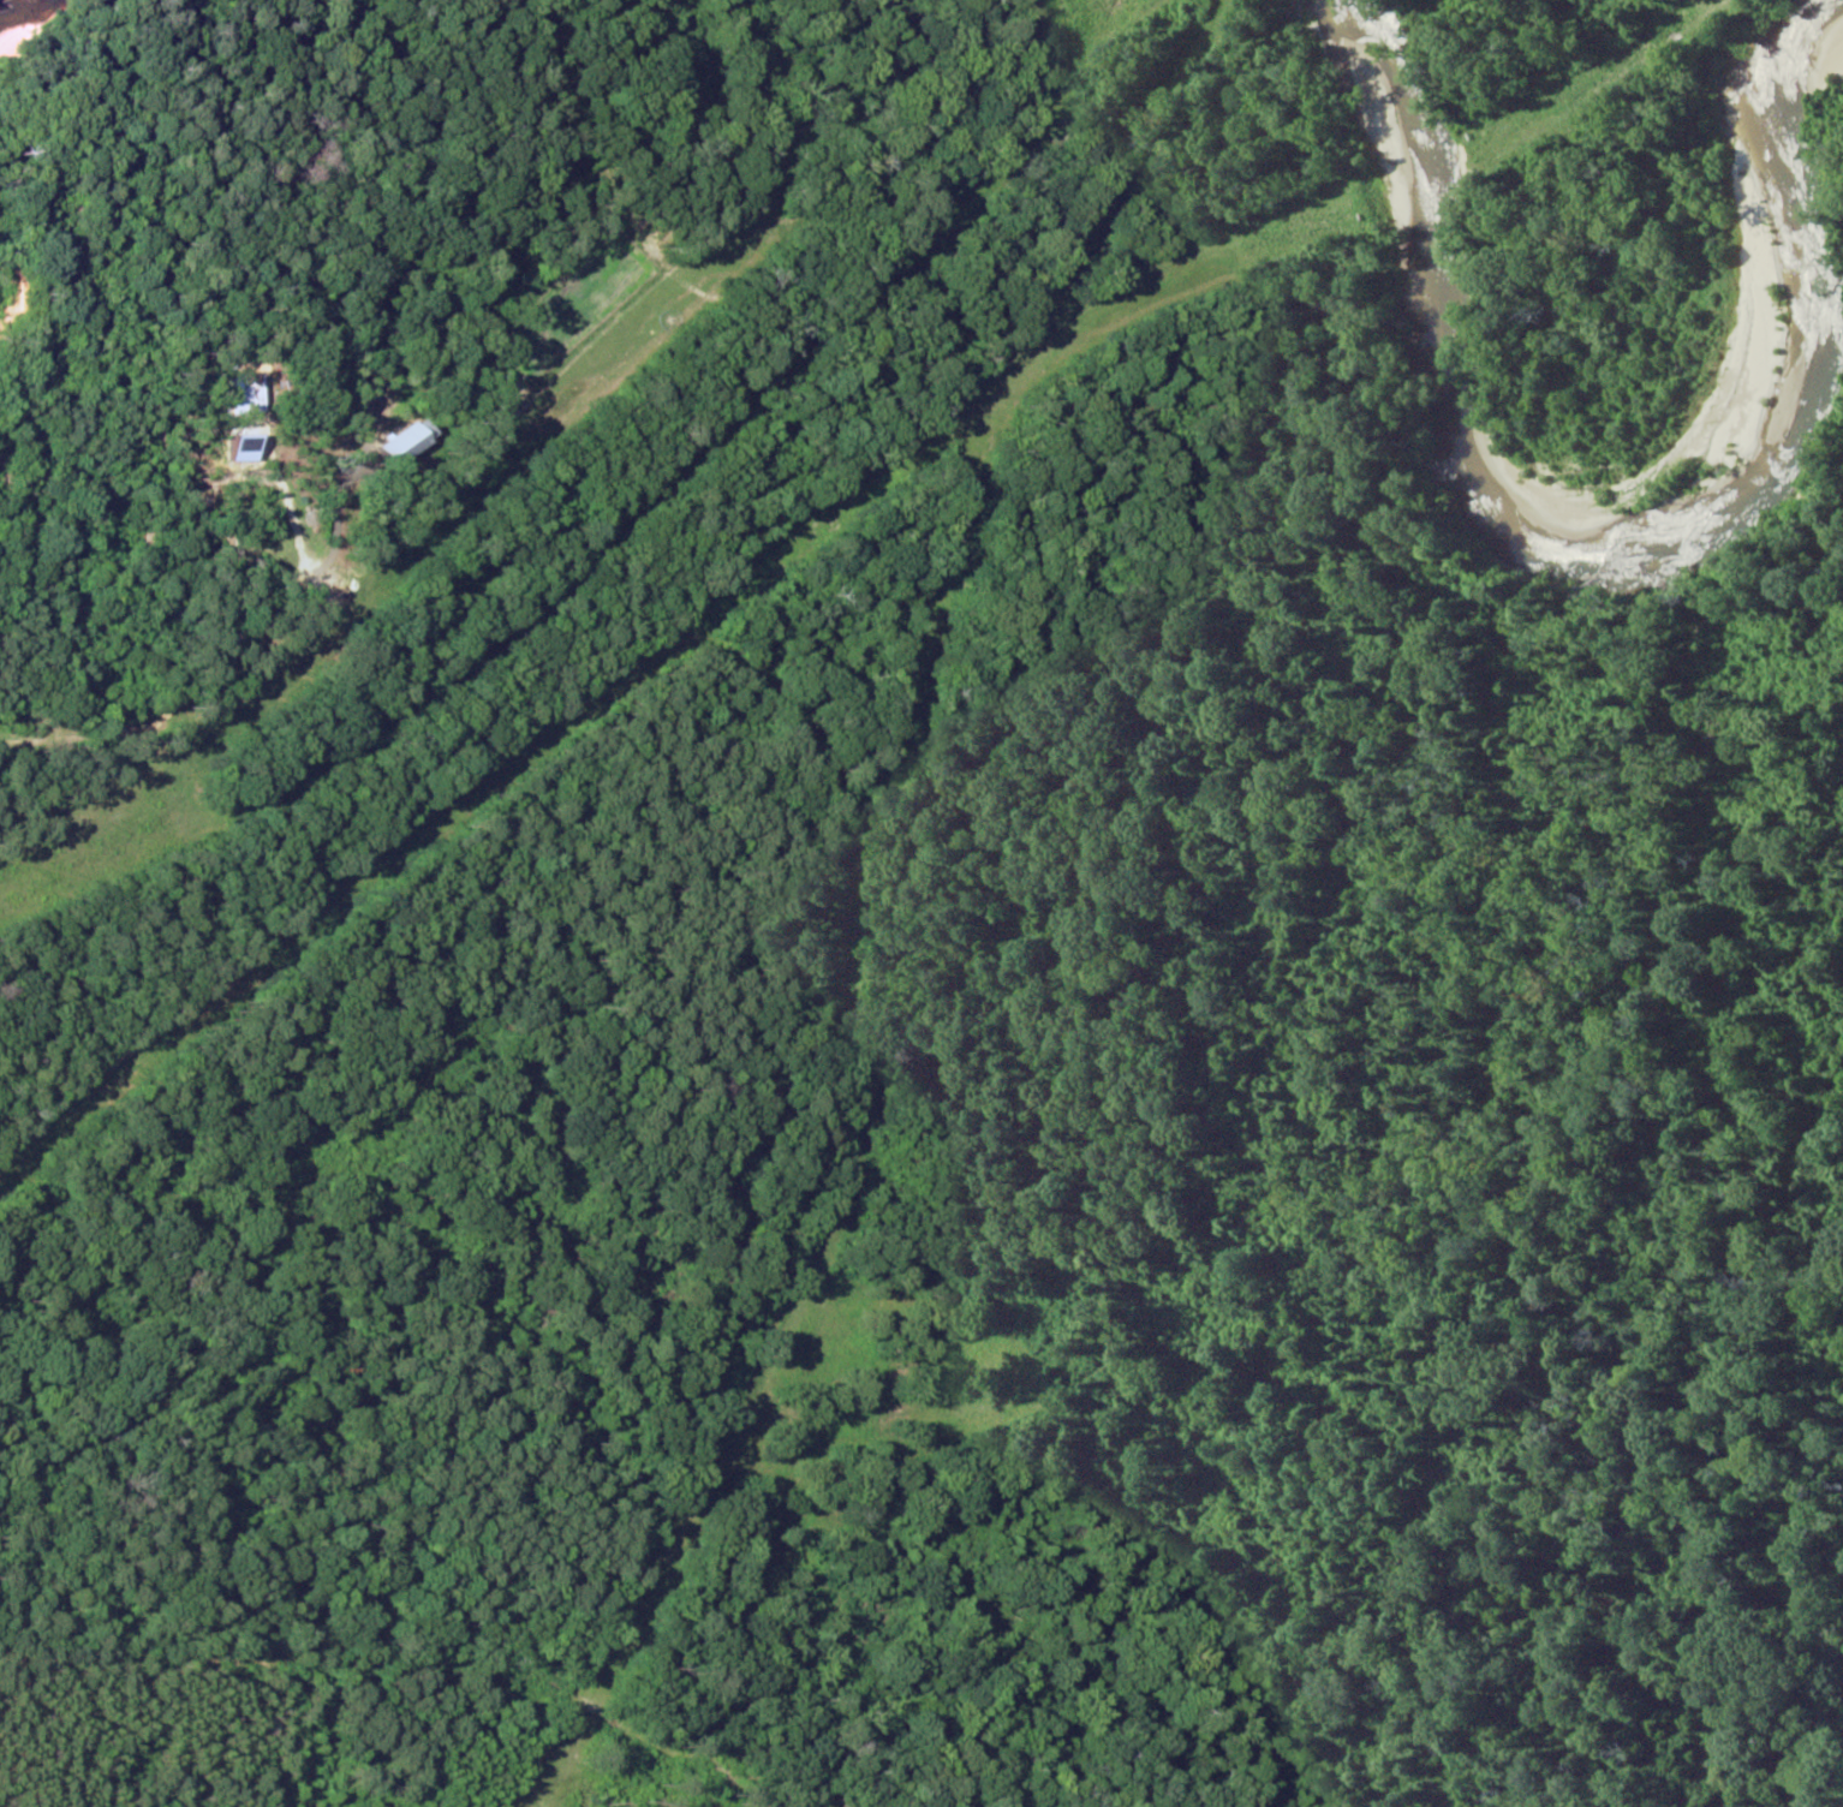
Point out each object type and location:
building: (410, 440)

